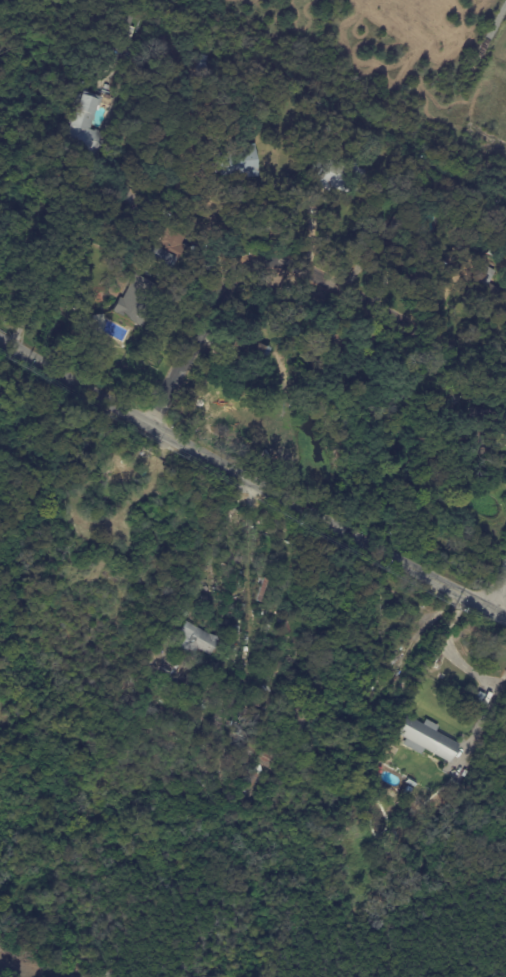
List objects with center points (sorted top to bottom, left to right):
building: (124, 27)
building: (202, 57)
building: (128, 66)
building: (203, 72)
building: (108, 73)
building: (84, 126)
building: (237, 161)
building: (339, 176)
building: (124, 189)
building: (131, 197)
building: (139, 202)
building: (78, 207)
building: (395, 229)
building: (481, 241)
building: (461, 243)
building: (165, 248)
building: (495, 251)
building: (414, 259)
building: (454, 259)
road: (38, 272)
building: (486, 283)
building: (134, 300)
road: (384, 319)
building: (96, 325)
road: (200, 332)
building: (255, 346)
building: (499, 416)
building: (483, 441)
building: (87, 443)
building: (265, 455)
building: (419, 459)
building: (117, 471)
road: (252, 478)
building: (261, 548)
building: (382, 578)
building: (129, 581)
building: (264, 590)
road: (503, 598)
building: (183, 613)
building: (178, 619)
building: (195, 640)
building: (172, 680)
building: (402, 692)
building: (191, 697)
building: (202, 706)
road: (489, 708)
building: (133, 712)
building: (297, 721)
building: (148, 724)
building: (248, 739)
building: (427, 739)
building: (267, 757)
building: (262, 769)
building: (251, 779)

